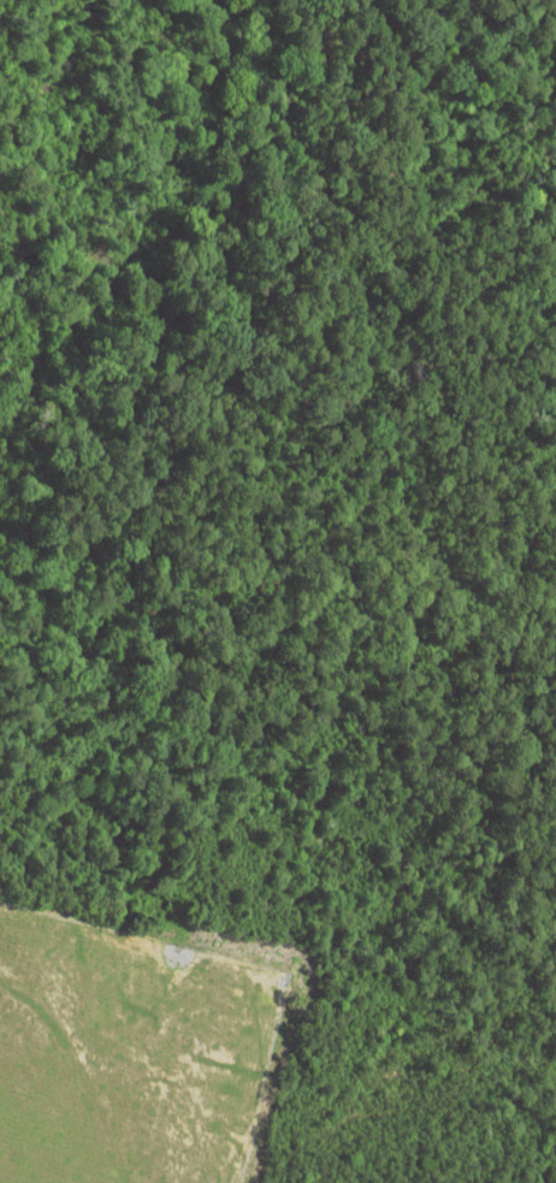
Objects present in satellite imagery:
airport: (128, 1054)

